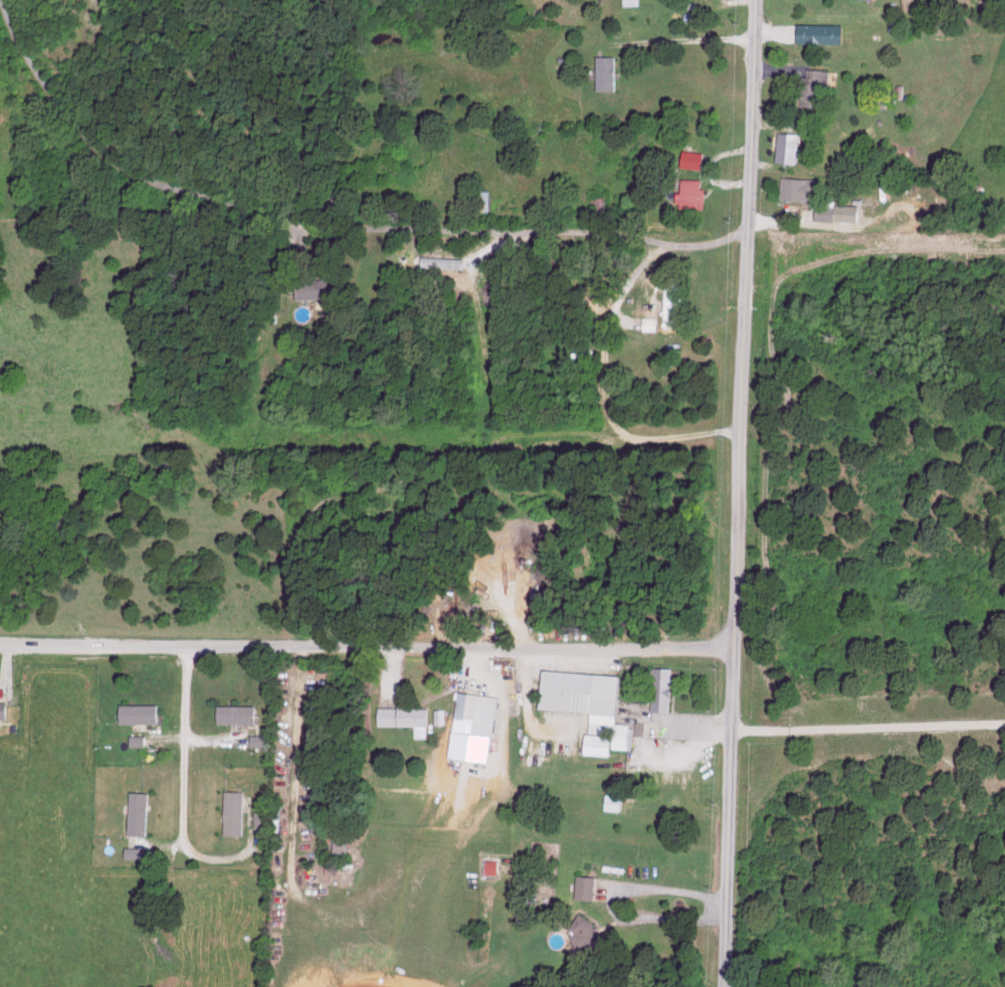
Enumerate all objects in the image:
building: (627, 2)
building: (815, 33)
road: (691, 41)
building: (602, 72)
building: (812, 85)
building: (785, 146)
building: (688, 158)
building: (797, 188)
building: (687, 193)
building: (834, 211)
road: (322, 229)
building: (320, 287)
building: (652, 322)
road: (602, 391)
road: (735, 493)
road: (365, 647)
building: (663, 686)
building: (592, 705)
building: (4, 709)
building: (140, 712)
building: (237, 712)
building: (440, 715)
building: (406, 716)
road: (678, 723)
building: (476, 725)
road: (866, 727)
building: (138, 739)
building: (258, 739)
road: (182, 745)
building: (614, 800)
building: (236, 811)
building: (141, 813)
building: (261, 817)
building: (136, 852)
building: (494, 866)
building: (588, 886)
road: (651, 892)
building: (589, 932)

